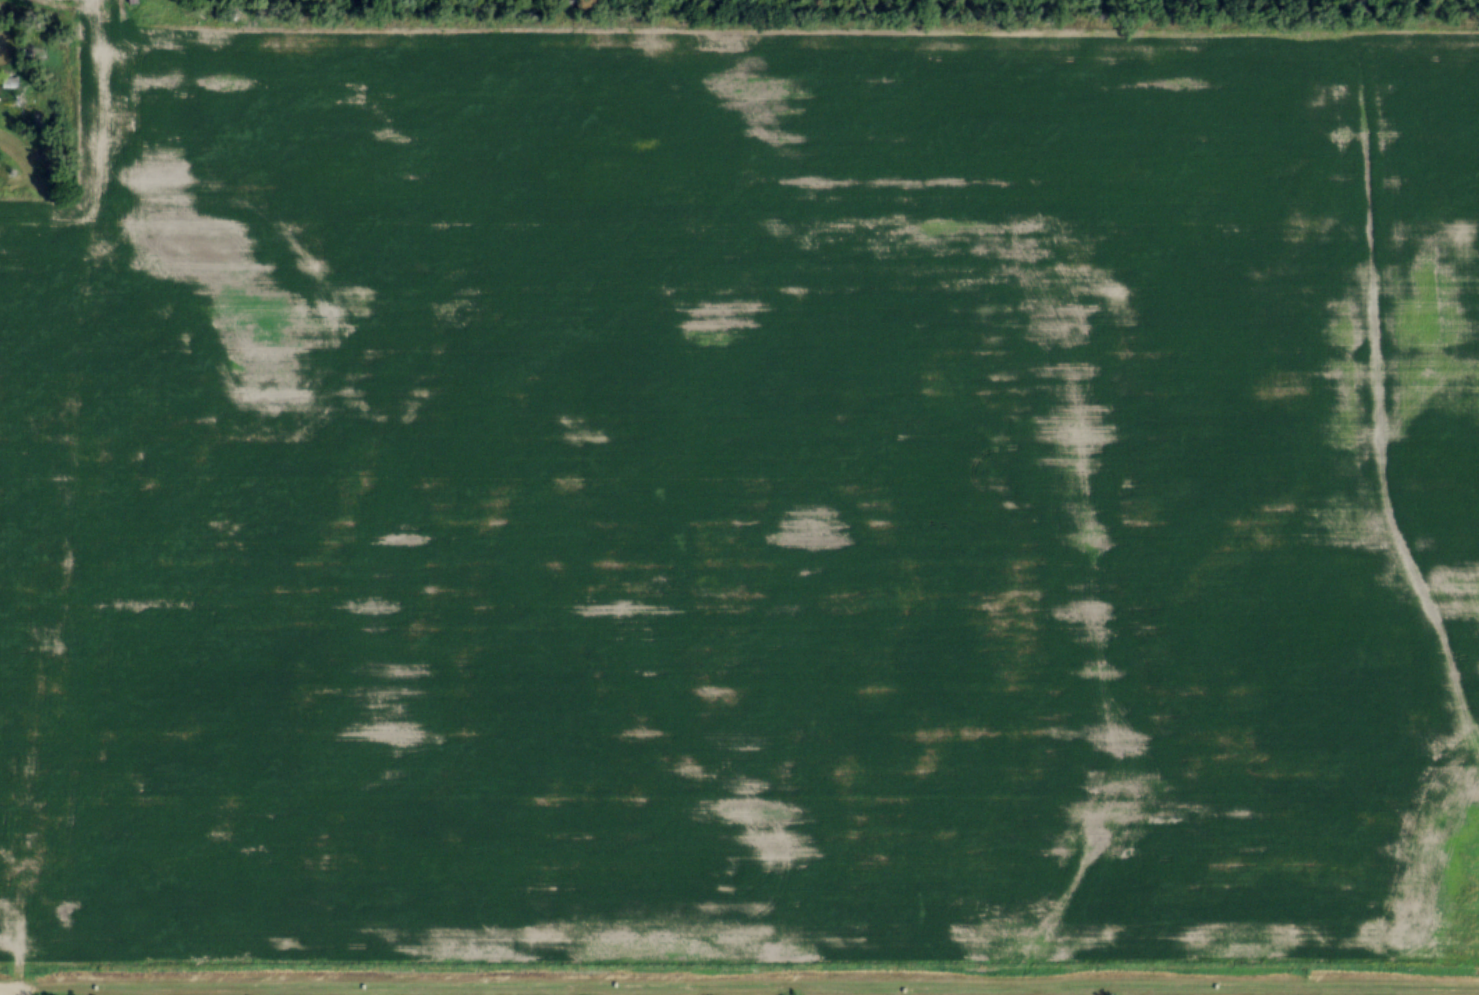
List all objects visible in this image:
building: (9, 85)
road: (739, 988)
road: (16, 994)

